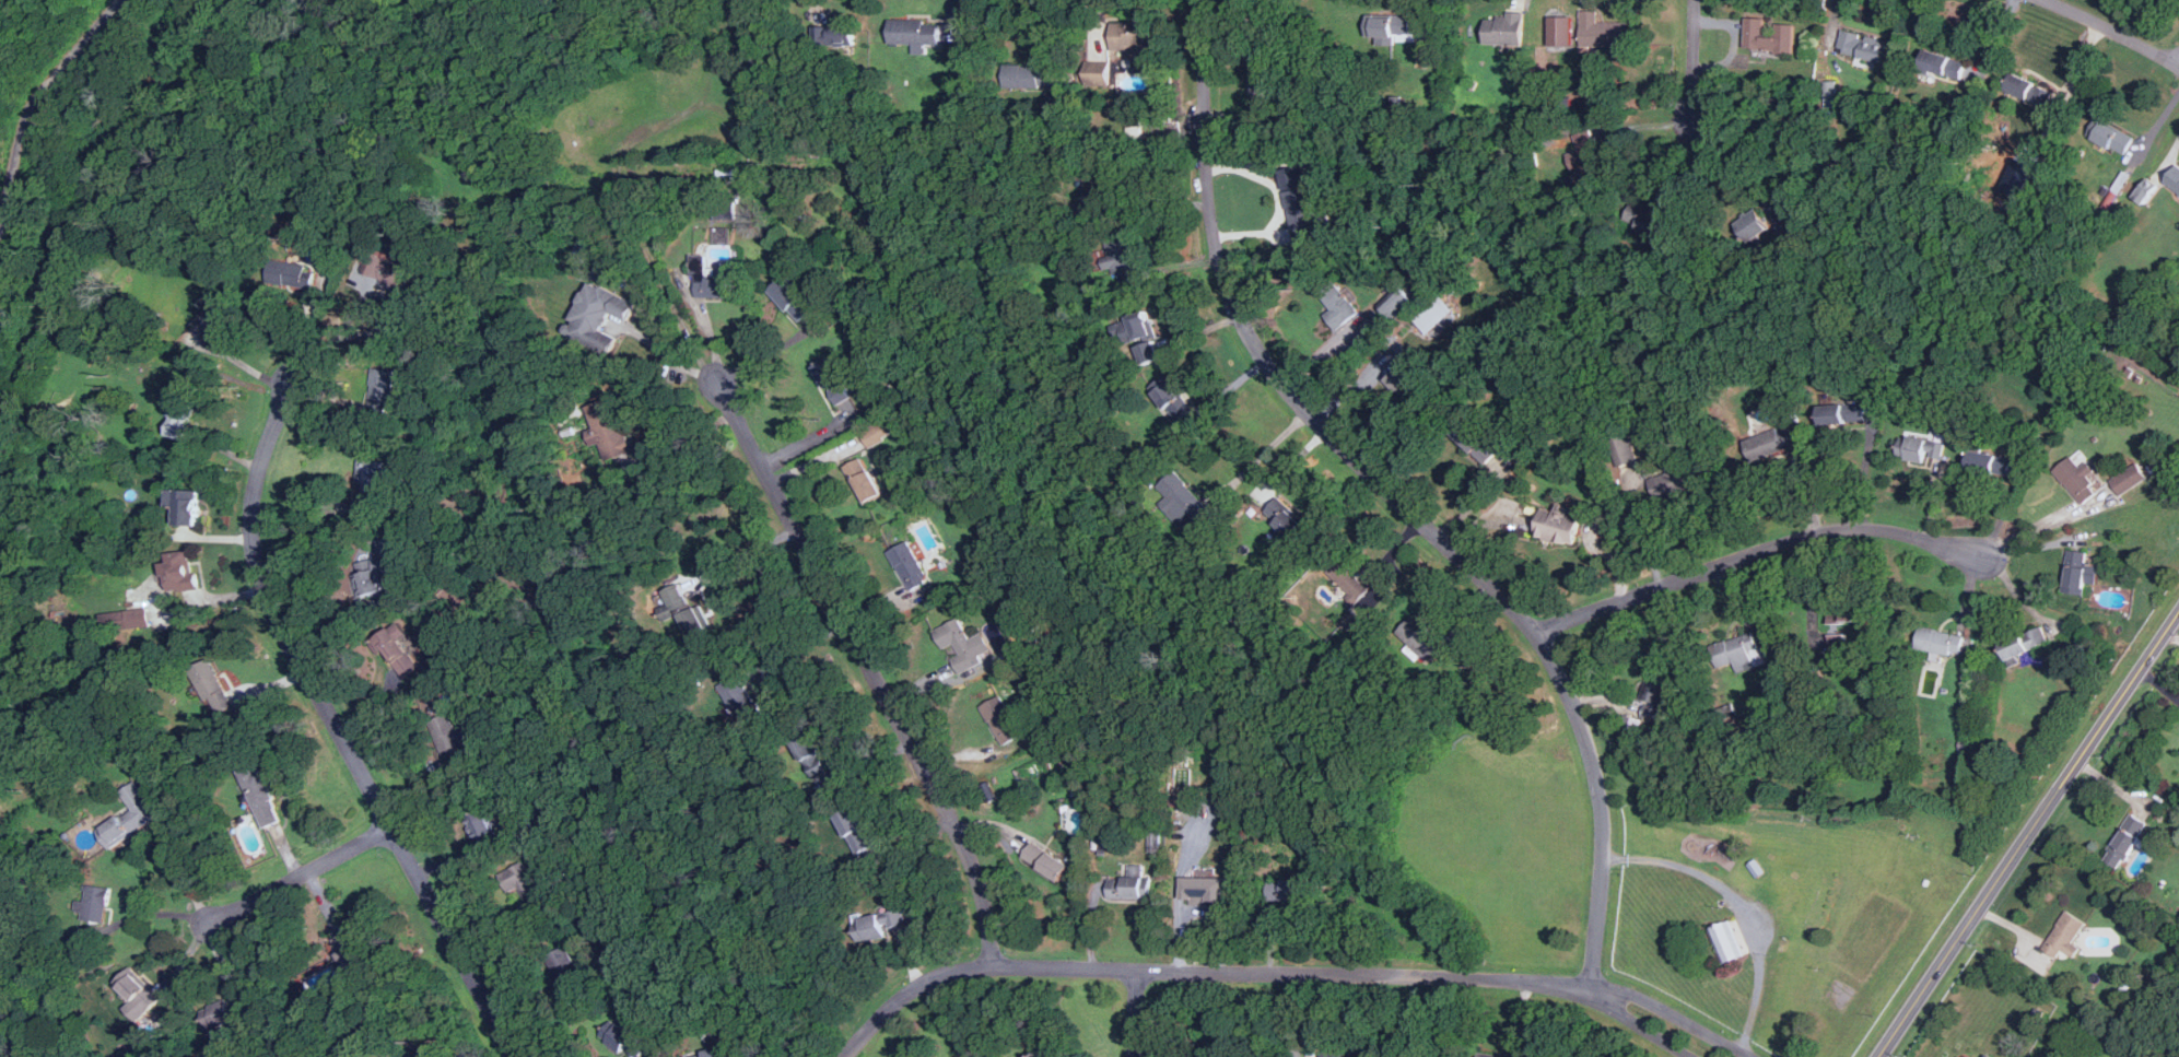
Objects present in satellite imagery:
building: (1392, 25)
road: (1044, 26)
building: (1510, 30)
building: (1560, 30)
building: (1605, 30)
road: (2114, 31)
building: (835, 32)
building: (919, 33)
building: (1772, 40)
building: (1866, 46)
building: (1134, 49)
road: (2178, 63)
road: (1695, 66)
building: (1944, 66)
building: (1028, 74)
building: (1267, 92)
building: (2035, 93)
building: (1830, 94)
road: (33, 103)
building: (2114, 137)
building: (1143, 138)
building: (1614, 143)
road: (1208, 148)
building: (1588, 160)
building: (2175, 179)
road: (1279, 201)
building: (1315, 201)
building: (1298, 203)
building: (1648, 220)
building: (1758, 224)
building: (1791, 232)
building: (1128, 260)
building: (302, 278)
building: (399, 281)
building: (718, 281)
building: (795, 301)
building: (1398, 304)
building: (1340, 307)
building: (215, 314)
building: (1434, 315)
building: (600, 316)
road: (705, 329)
building: (1150, 341)
road: (676, 360)
building: (840, 384)
building: (1409, 384)
building: (378, 398)
building: (1176, 402)
building: (185, 409)
building: (1842, 413)
building: (614, 431)
building: (877, 433)
building: (1772, 438)
road: (691, 443)
building: (1476, 444)
building: (1625, 449)
building: (1921, 450)
road: (1266, 456)
building: (1992, 461)
road: (1865, 470)
building: (378, 475)
building: (2080, 478)
building: (2129, 479)
building: (1675, 480)
building: (864, 481)
building: (1191, 497)
building: (186, 506)
building: (1563, 524)
building: (1294, 526)
road: (2028, 528)
road: (1834, 530)
road: (749, 552)
building: (913, 567)
building: (2078, 568)
building: (180, 569)
building: (367, 574)
building: (1350, 576)
road: (210, 599)
road: (1506, 601)
road: (1614, 603)
building: (686, 610)
building: (1850, 615)
building: (125, 623)
building: (1855, 631)
road: (2172, 633)
building: (1427, 638)
building: (1942, 639)
building: (2024, 639)
road: (799, 644)
building: (965, 646)
building: (1737, 647)
building: (399, 653)
road: (874, 672)
building: (213, 692)
building: (745, 701)
building: (1657, 701)
road: (2117, 703)
building: (1004, 720)
building: (1632, 725)
road: (338, 729)
building: (469, 739)
building: (454, 740)
building: (822, 763)
building: (261, 792)
building: (131, 817)
building: (488, 827)
building: (862, 835)
building: (2124, 841)
building: (1049, 862)
road: (303, 874)
road: (185, 879)
building: (525, 882)
building: (1130, 883)
building: (1209, 889)
building: (1292, 890)
building: (98, 905)
road: (1739, 906)
road: (160, 914)
building: (882, 925)
road: (1966, 926)
building: (2065, 935)
building: (1725, 941)
building: (348, 953)
building: (565, 964)
road: (1217, 971)
building: (330, 975)
building: (144, 1001)
building: (220, 1011)
road: (1137, 1013)
road: (1687, 1021)
building: (1214, 1024)
road: (1648, 1033)
building: (618, 1034)
building: (1977, 1050)
building: (422, 1053)
building: (716, 1053)
building: (1506, 1053)
building: (1040, 1055)
building: (1348, 1055)
building: (1488, 1055)

